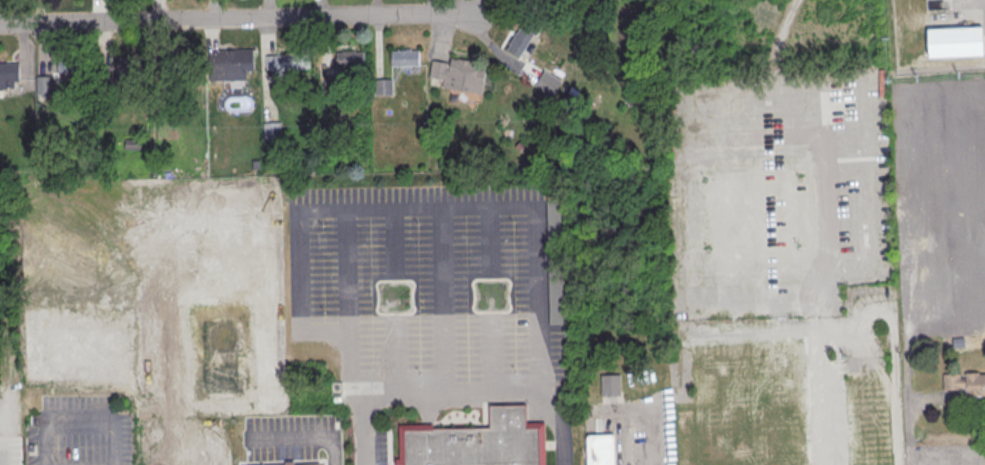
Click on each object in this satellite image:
building: (527, 4)
road: (238, 18)
building: (521, 40)
building: (405, 57)
building: (287, 61)
building: (352, 63)
building: (128, 64)
building: (230, 64)
building: (71, 65)
building: (9, 71)
building: (459, 75)
building: (45, 85)
building: (332, 88)
building: (384, 88)
building: (272, 131)
road: (358, 206)
road: (534, 251)
parking lot: (425, 298)
building: (966, 384)
building: (611, 385)
road: (458, 396)
road: (652, 437)
building: (477, 441)
building: (603, 450)
road: (3, 461)
building: (290, 463)
building: (312, 464)

